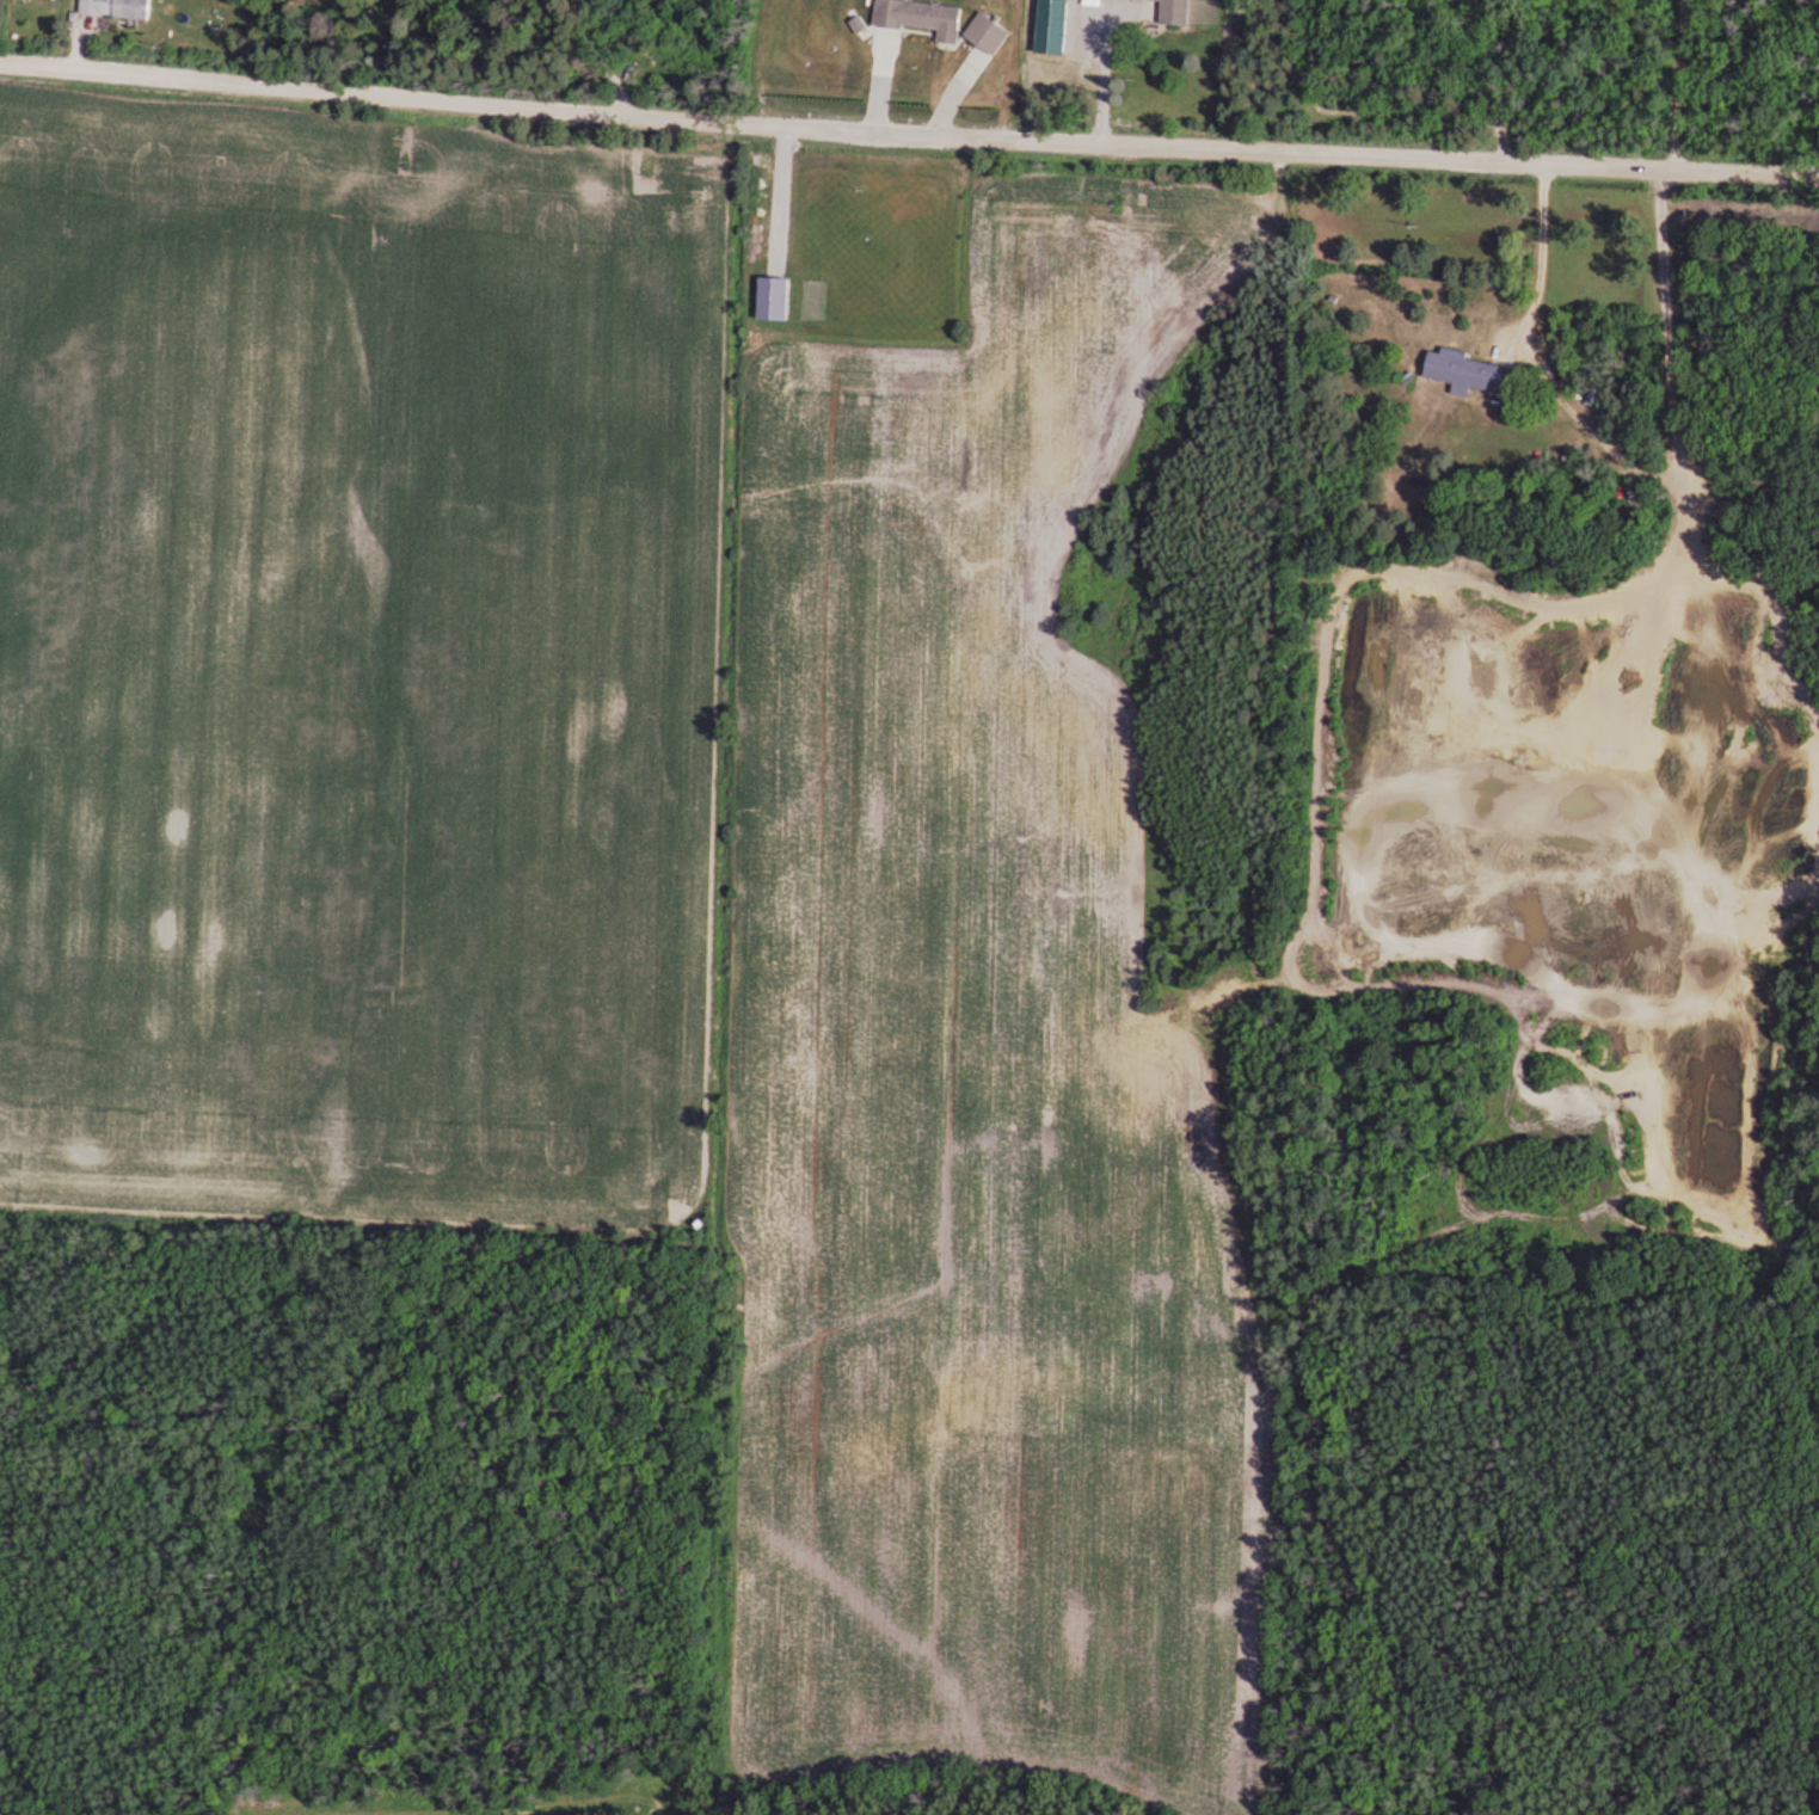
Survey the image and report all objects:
building: (112, 7)
building: (1156, 11)
building: (917, 16)
road: (1105, 76)
road: (1678, 86)
road: (908, 135)
road: (1519, 251)
building: (1462, 369)

